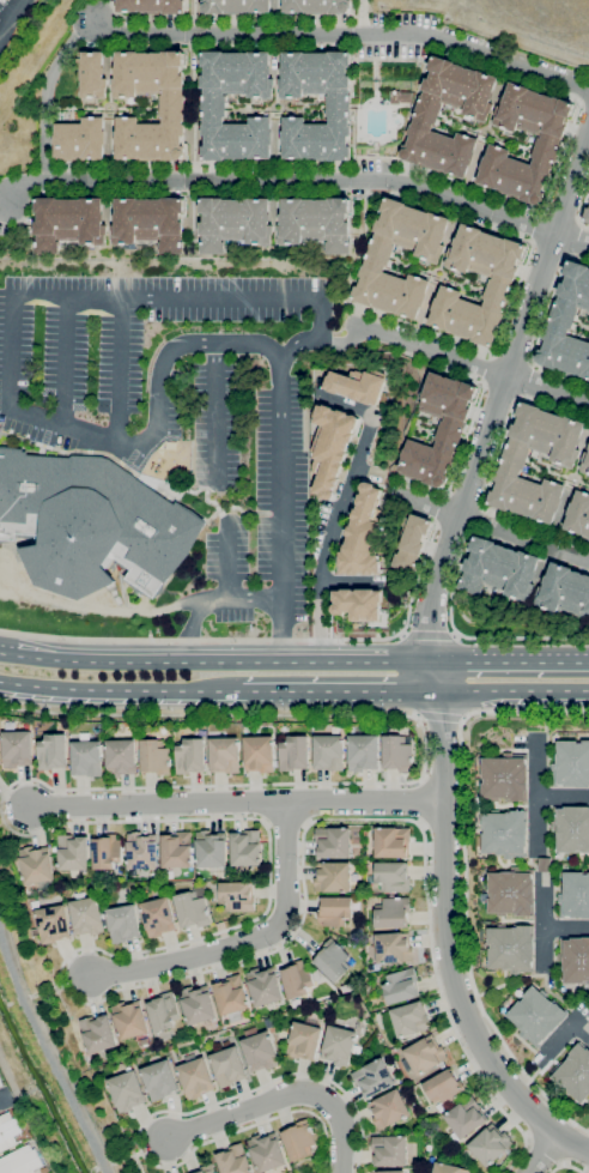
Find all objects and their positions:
building: (151, 6)
building: (236, 6)
building: (316, 6)
road: (362, 17)
road: (12, 18)
road: (239, 18)
road: (341, 34)
road: (225, 47)
building: (92, 74)
building: (438, 75)
building: (453, 84)
building: (484, 86)
building: (464, 89)
road: (48, 91)
building: (400, 97)
building: (515, 97)
building: (430, 101)
building: (172, 107)
building: (213, 107)
building: (339, 108)
road: (411, 108)
building: (478, 109)
building: (529, 110)
building: (541, 114)
building: (558, 116)
building: (424, 117)
building: (506, 119)
building: (79, 140)
building: (548, 141)
building: (414, 144)
building: (463, 145)
building: (431, 150)
building: (442, 153)
building: (496, 156)
building: (542, 158)
building: (457, 165)
building: (488, 175)
building: (506, 175)
road: (298, 180)
building: (518, 180)
building: (534, 185)
road: (467, 187)
road: (425, 204)
road: (579, 208)
building: (585, 216)
building: (389, 217)
building: (69, 222)
building: (150, 222)
building: (235, 223)
building: (317, 223)
building: (405, 225)
building: (436, 228)
building: (417, 229)
building: (467, 238)
building: (382, 243)
road: (362, 250)
building: (430, 250)
building: (481, 252)
building: (493, 256)
building: (376, 259)
building: (459, 259)
building: (510, 259)
building: (573, 280)
building: (499, 283)
building: (366, 285)
building: (415, 286)
building: (383, 291)
building: (394, 295)
building: (584, 296)
building: (448, 297)
road: (108, 298)
building: (494, 300)
building: (408, 306)
building: (565, 306)
building: (441, 316)
building: (459, 316)
building: (470, 321)
building: (559, 322)
building: (487, 326)
road: (540, 327)
road: (348, 340)
building: (551, 347)
building: (588, 352)
building: (566, 353)
building: (577, 358)
road: (65, 362)
road: (467, 362)
building: (584, 369)
road: (119, 370)
building: (356, 386)
building: (430, 392)
road: (498, 394)
road: (516, 394)
building: (443, 397)
building: (461, 399)
parking lot: (181, 400)
road: (344, 405)
road: (215, 412)
building: (526, 422)
building: (451, 424)
building: (540, 430)
building: (571, 433)
building: (552, 434)
road: (467, 437)
building: (447, 441)
building: (517, 447)
building: (330, 448)
building: (565, 455)
building: (408, 458)
building: (421, 462)
building: (511, 464)
building: (585, 464)
building: (438, 467)
road: (491, 468)
building: (502, 489)
building: (551, 491)
building: (518, 495)
building: (529, 500)
building: (581, 502)
building: (544, 512)
building: (576, 521)
building: (91, 522)
road: (491, 524)
building: (587, 531)
building: (362, 533)
road: (334, 537)
building: (412, 543)
building: (498, 569)
road: (352, 582)
road: (229, 588)
building: (564, 591)
building: (356, 604)
road: (193, 617)
road: (429, 634)
road: (523, 636)
road: (200, 639)
road: (281, 643)
road: (214, 660)
road: (510, 660)
road: (125, 691)
road: (344, 693)
road: (512, 693)
road: (544, 702)
road: (438, 715)
building: (17, 746)
building: (53, 751)
building: (294, 752)
building: (329, 752)
building: (363, 752)
building: (397, 752)
building: (260, 754)
building: (225, 755)
building: (156, 756)
building: (190, 756)
building: (121, 757)
building: (86, 758)
building: (571, 763)
road: (442, 775)
building: (505, 778)
road: (303, 785)
road: (538, 793)
road: (564, 796)
road: (420, 800)
road: (235, 803)
road: (310, 803)
road: (442, 823)
building: (571, 828)
building: (504, 834)
building: (333, 841)
building: (390, 842)
building: (211, 848)
building: (245, 848)
building: (141, 849)
building: (176, 849)
building: (105, 853)
building: (72, 854)
building: (37, 864)
building: (545, 864)
road: (541, 866)
building: (393, 876)
building: (333, 877)
road: (464, 883)
building: (511, 893)
building: (575, 895)
building: (236, 896)
building: (192, 909)
building: (334, 911)
building: (393, 913)
building: (87, 915)
building: (158, 917)
building: (123, 923)
building: (53, 924)
road: (298, 924)
road: (544, 926)
road: (566, 929)
road: (449, 932)
road: (244, 941)
building: (394, 948)
building: (511, 948)
building: (575, 959)
building: (333, 960)
building: (297, 979)
building: (263, 986)
building: (400, 986)
building: (230, 997)
road: (559, 997)
building: (198, 1004)
building: (163, 1011)
building: (536, 1016)
building: (411, 1018)
building: (129, 1020)
building: (267, 1022)
road: (582, 1029)
building: (97, 1033)
building: (303, 1041)
road: (557, 1044)
building: (340, 1045)
building: (170, 1047)
building: (260, 1051)
building: (425, 1054)
building: (227, 1066)
building: (575, 1072)
building: (195, 1076)
building: (372, 1077)
road: (528, 1078)
building: (159, 1080)
building: (0, 1082)
building: (444, 1087)
building: (127, 1090)
road: (2, 1095)
road: (283, 1098)
building: (389, 1108)
road: (148, 1117)
building: (466, 1117)
road: (544, 1126)
building: (8, 1131)
building: (298, 1141)
road: (572, 1143)
building: (490, 1144)
building: (389, 1150)
building: (266, 1151)
road: (541, 1153)
road: (541, 1154)
building: (233, 1160)
building: (20, 1161)
road: (569, 1163)
building: (206, 1168)
building: (448, 1168)
building: (44, 1169)
building: (389, 1172)

